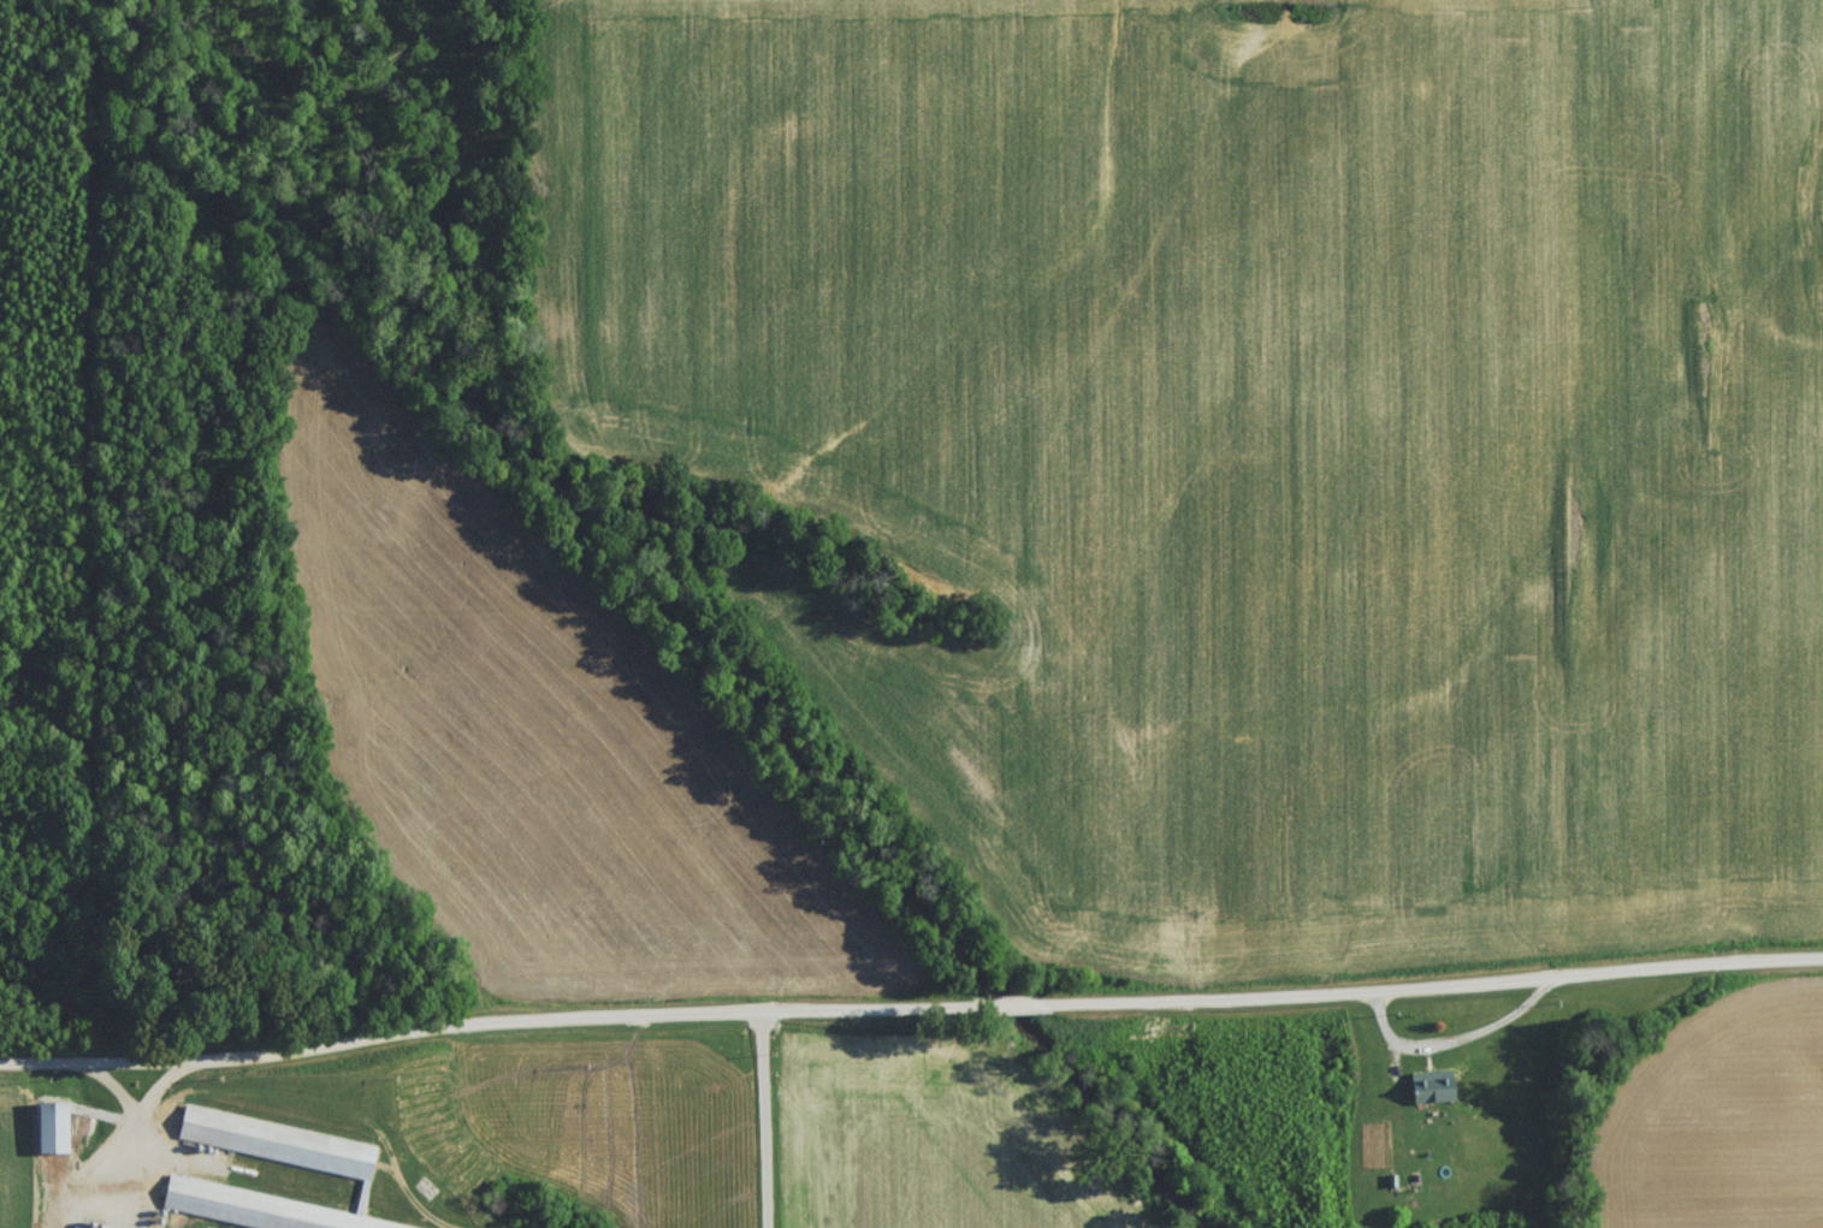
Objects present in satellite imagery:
road: (910, 1007)
road: (107, 1088)
building: (1433, 1092)
road: (758, 1120)
road: (132, 1125)
building: (57, 1132)
building: (320, 1164)
building: (1411, 1187)

